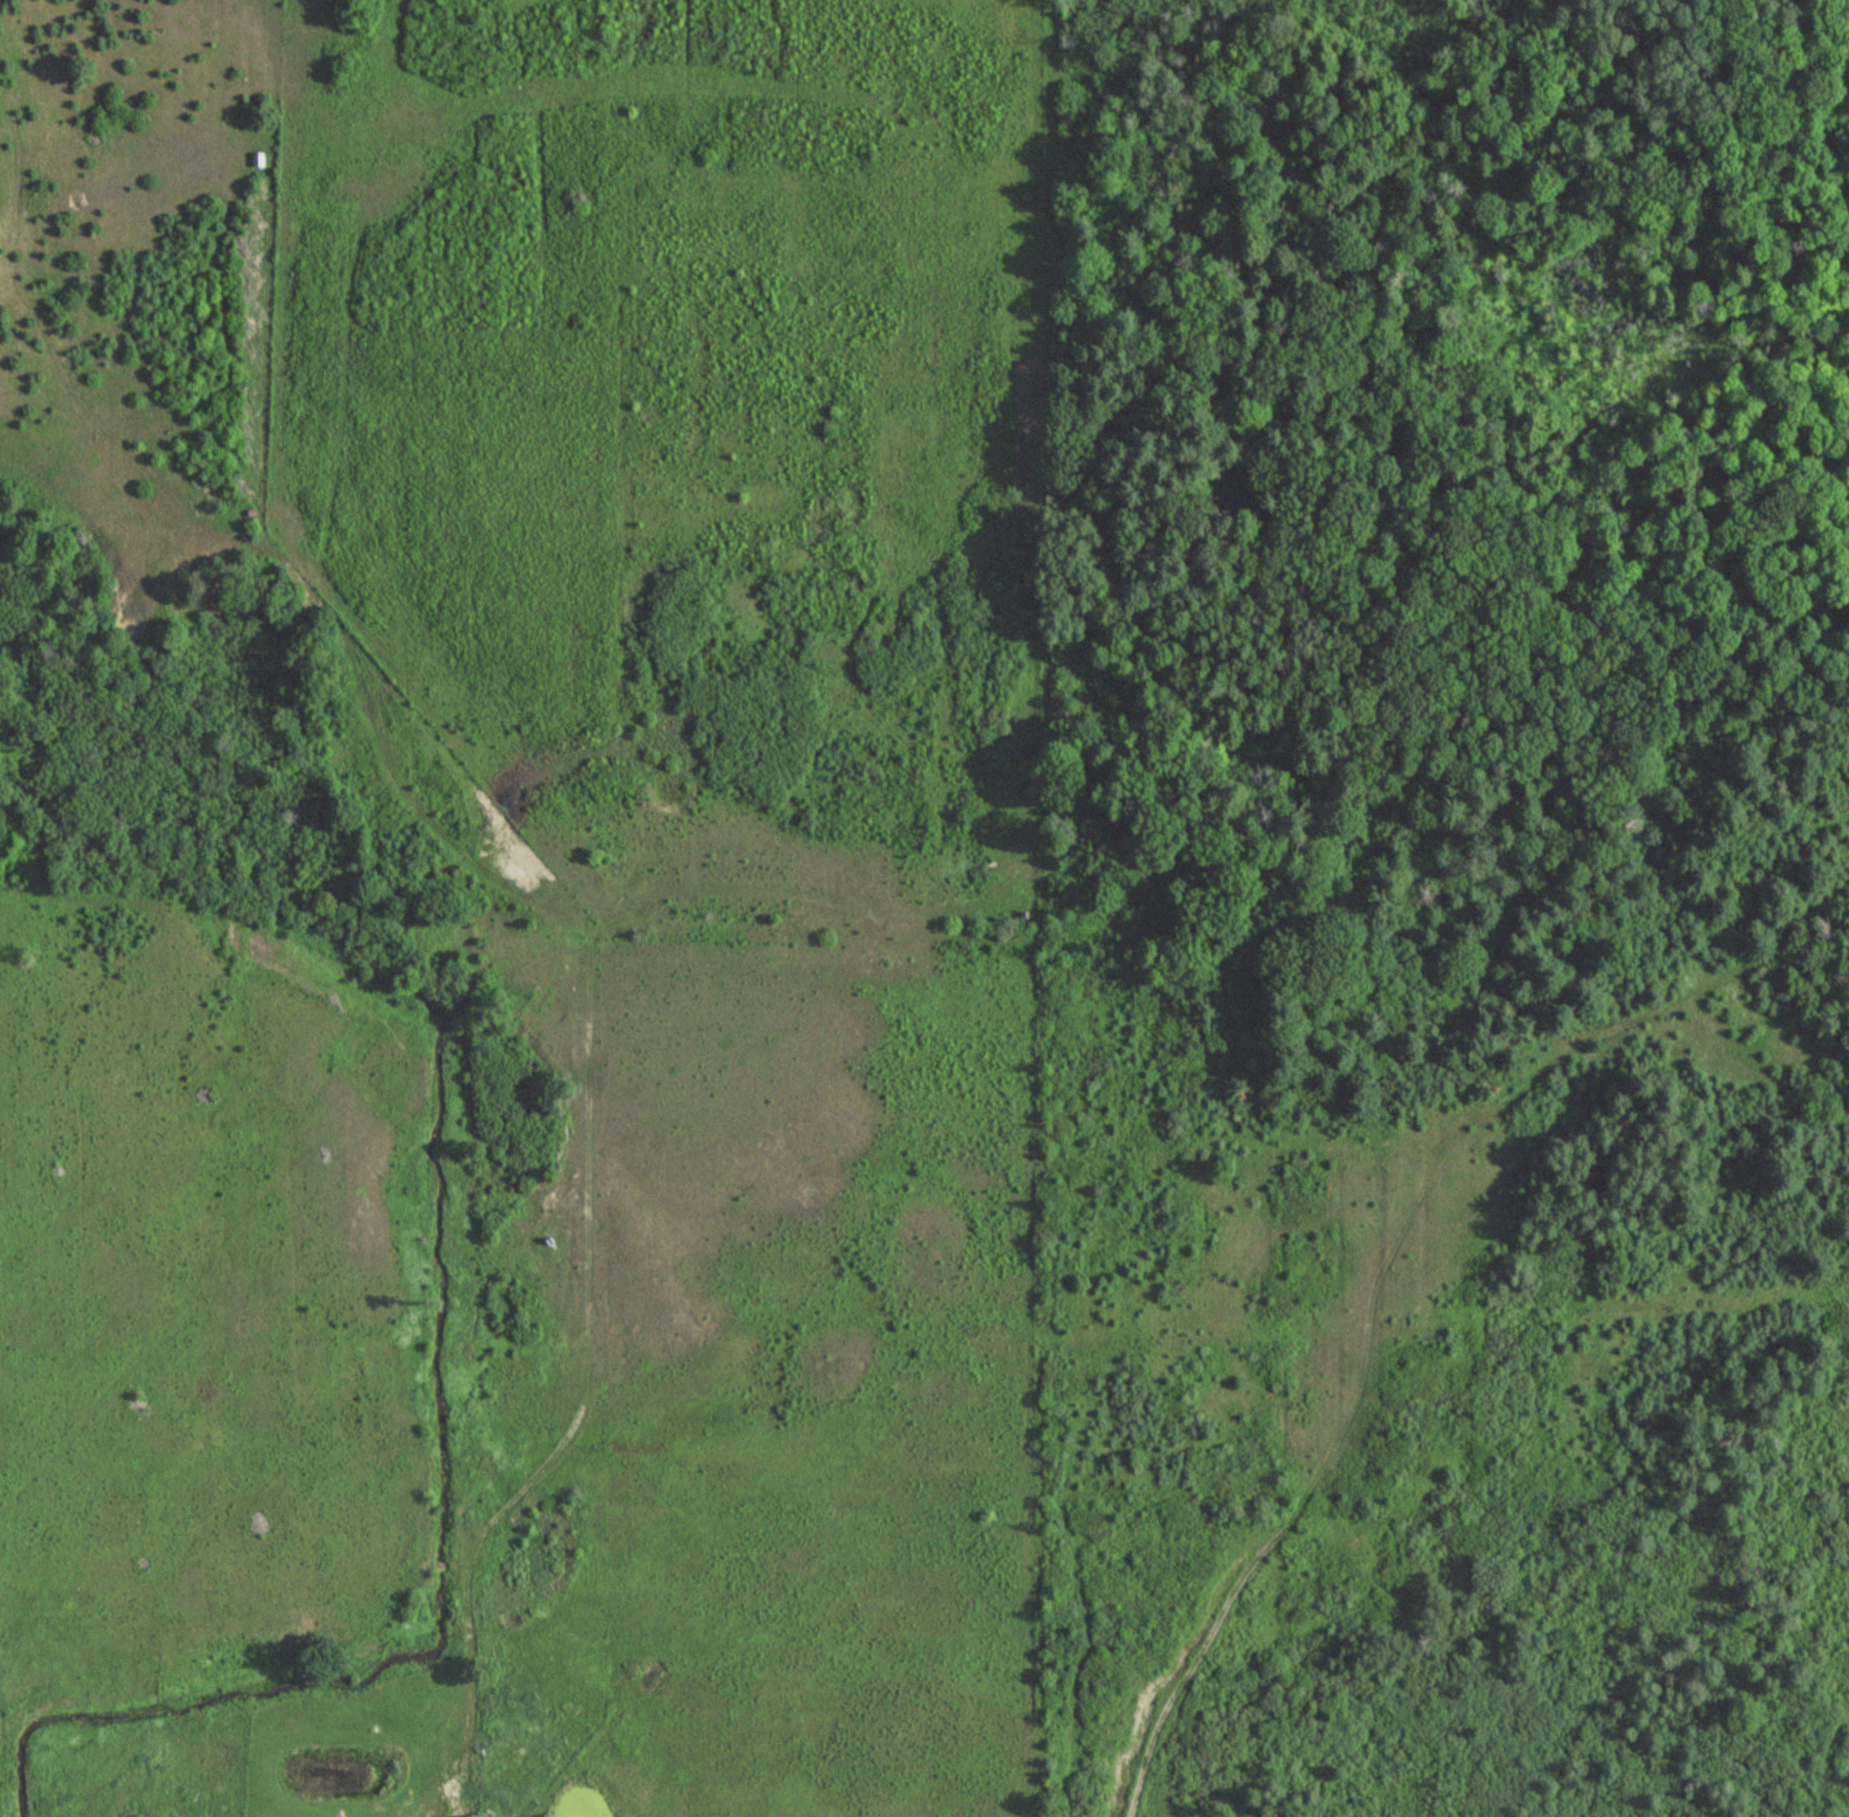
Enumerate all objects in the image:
building: (487, 1816)

